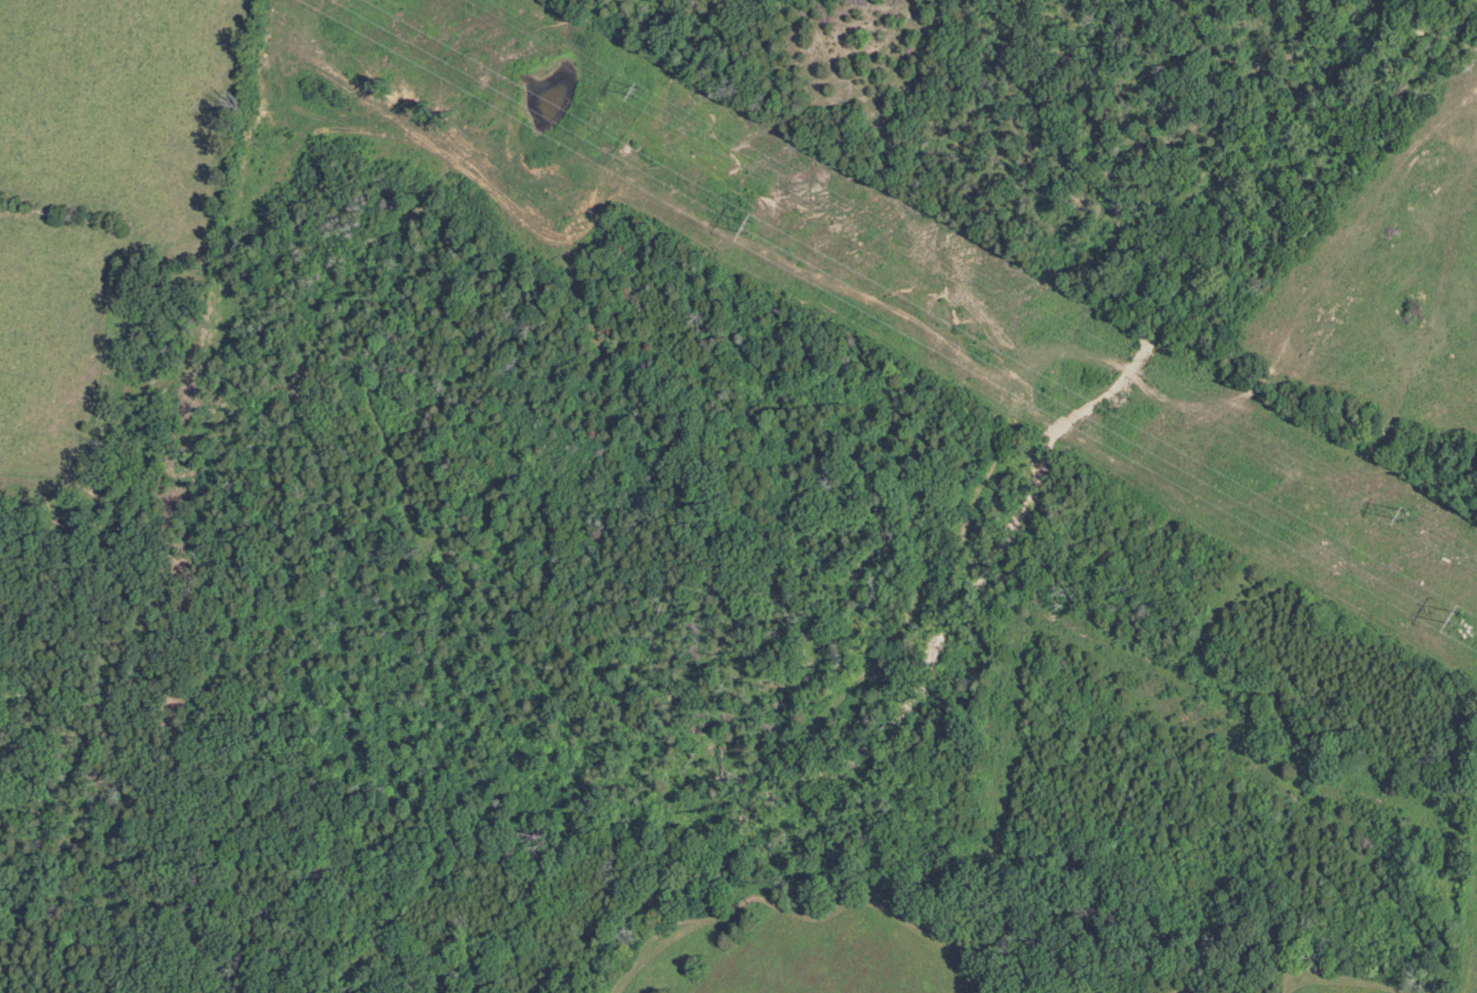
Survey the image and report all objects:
power tower: (748, 224)
power tower: (1454, 614)

